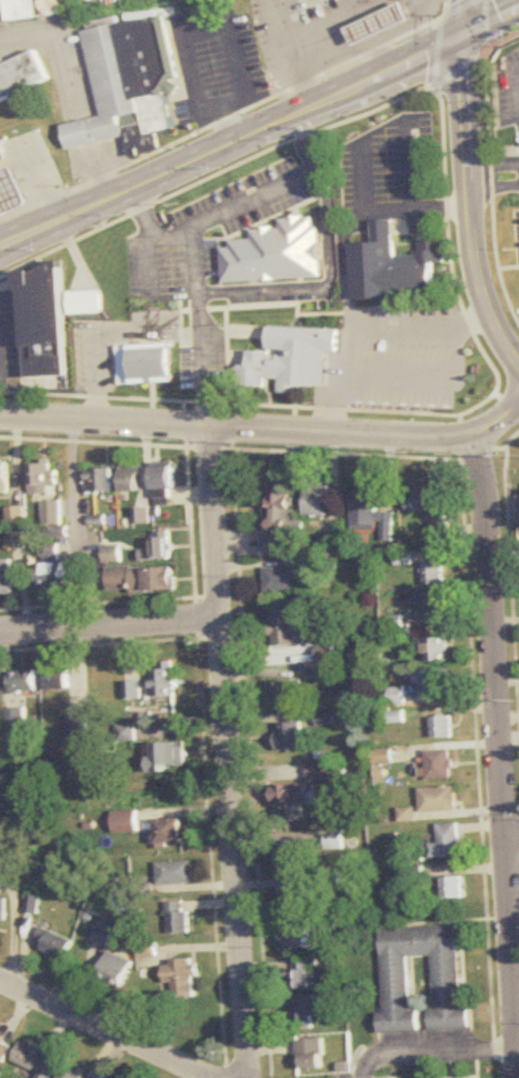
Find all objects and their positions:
building: (321, 2)
building: (37, 9)
road: (278, 9)
road: (458, 9)
road: (353, 13)
road: (465, 18)
building: (379, 21)
road: (483, 21)
parking lot: (288, 22)
road: (492, 22)
road: (48, 34)
traffic signals: (467, 36)
road: (186, 39)
road: (482, 48)
road: (437, 51)
road: (297, 61)
parking lot: (216, 62)
road: (391, 69)
road: (457, 70)
building: (21, 76)
building: (150, 83)
building: (104, 88)
parking lot: (507, 90)
road: (517, 93)
road: (221, 120)
road: (275, 123)
building: (2, 150)
parking lot: (390, 163)
road: (413, 166)
road: (490, 167)
road: (214, 174)
road: (472, 174)
road: (363, 178)
road: (134, 188)
building: (10, 190)
road: (472, 200)
road: (236, 208)
road: (419, 211)
parking lot: (517, 228)
parking lot: (186, 229)
road: (19, 240)
building: (275, 252)
road: (142, 262)
building: (106, 267)
road: (508, 267)
building: (395, 268)
road: (346, 269)
road: (325, 283)
parking lot: (279, 298)
building: (84, 302)
road: (266, 305)
road: (270, 327)
road: (425, 327)
building: (41, 328)
road: (201, 328)
road: (108, 336)
parking lot: (8, 341)
parking lot: (94, 355)
parking lot: (402, 357)
building: (293, 359)
building: (144, 365)
road: (228, 366)
parking lot: (204, 367)
road: (428, 381)
road: (346, 382)
road: (411, 412)
road: (106, 421)
road: (369, 432)
building: (4, 477)
building: (43, 477)
building: (134, 479)
building: (101, 480)
building: (166, 483)
building: (321, 502)
building: (432, 508)
building: (373, 515)
building: (18, 516)
building: (283, 519)
building: (18, 539)
building: (333, 542)
building: (157, 547)
building: (113, 553)
building: (52, 573)
building: (436, 573)
building: (7, 577)
building: (141, 579)
building: (283, 579)
building: (432, 602)
road: (111, 626)
building: (287, 629)
building: (439, 649)
building: (327, 653)
building: (59, 678)
building: (26, 680)
building: (439, 682)
building: (154, 685)
building: (287, 690)
building: (20, 716)
building: (79, 725)
building: (443, 727)
building: (129, 732)
building: (290, 736)
road: (501, 749)
road: (231, 752)
building: (170, 757)
building: (441, 765)
building: (325, 771)
building: (291, 793)
building: (441, 799)
building: (127, 822)
building: (173, 831)
road: (512, 837)
building: (449, 842)
building: (292, 856)
building: (177, 872)
building: (455, 888)
building: (298, 898)
building: (4, 910)
building: (180, 917)
building: (103, 938)
building: (298, 939)
building: (59, 945)
building: (117, 969)
building: (300, 975)
building: (181, 978)
building: (398, 984)
building: (306, 1012)
road: (118, 1034)
road: (433, 1051)
building: (2, 1052)
building: (309, 1055)
building: (36, 1062)
building: (70, 1072)
road: (244, 1074)
road: (202, 1075)

